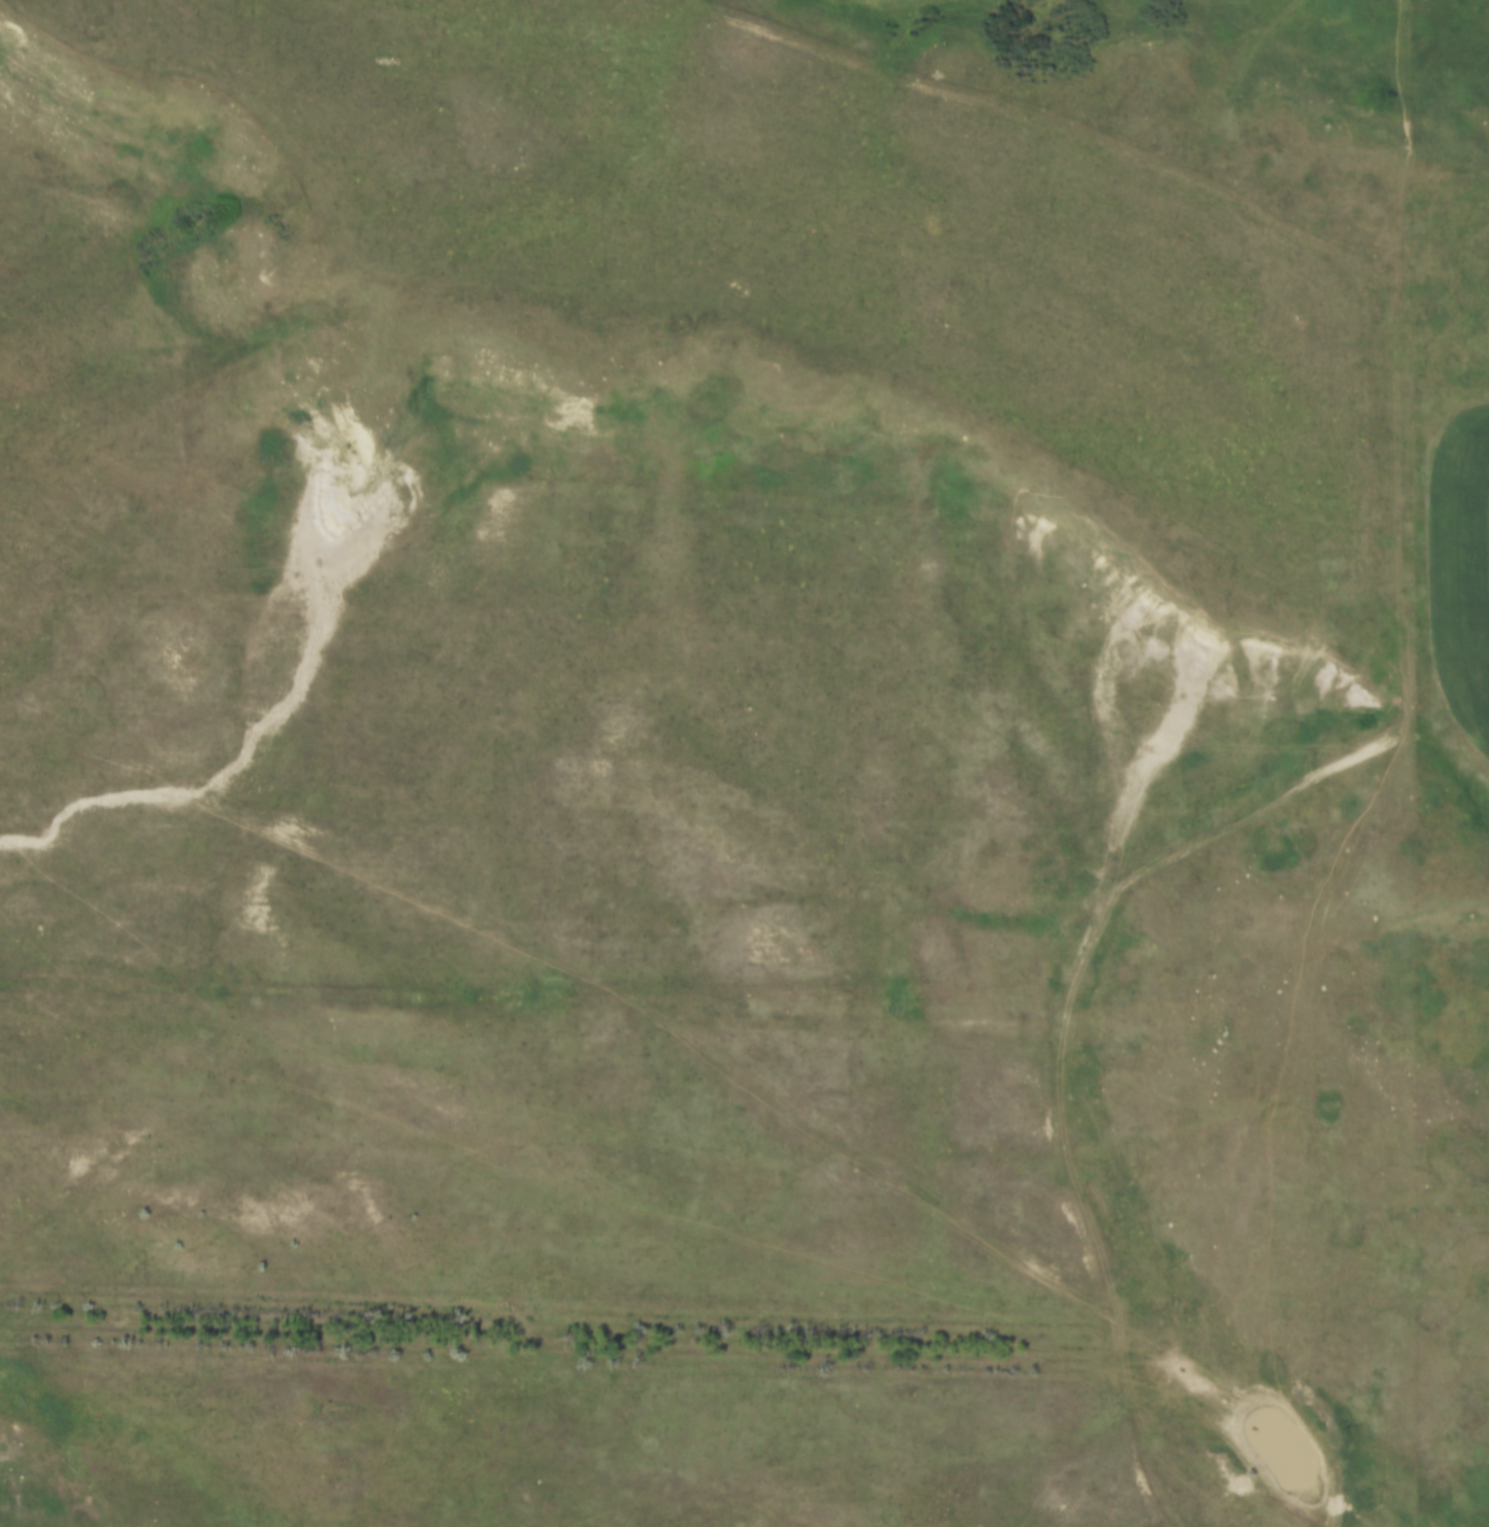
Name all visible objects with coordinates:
road: (1408, 631)
road: (568, 971)

